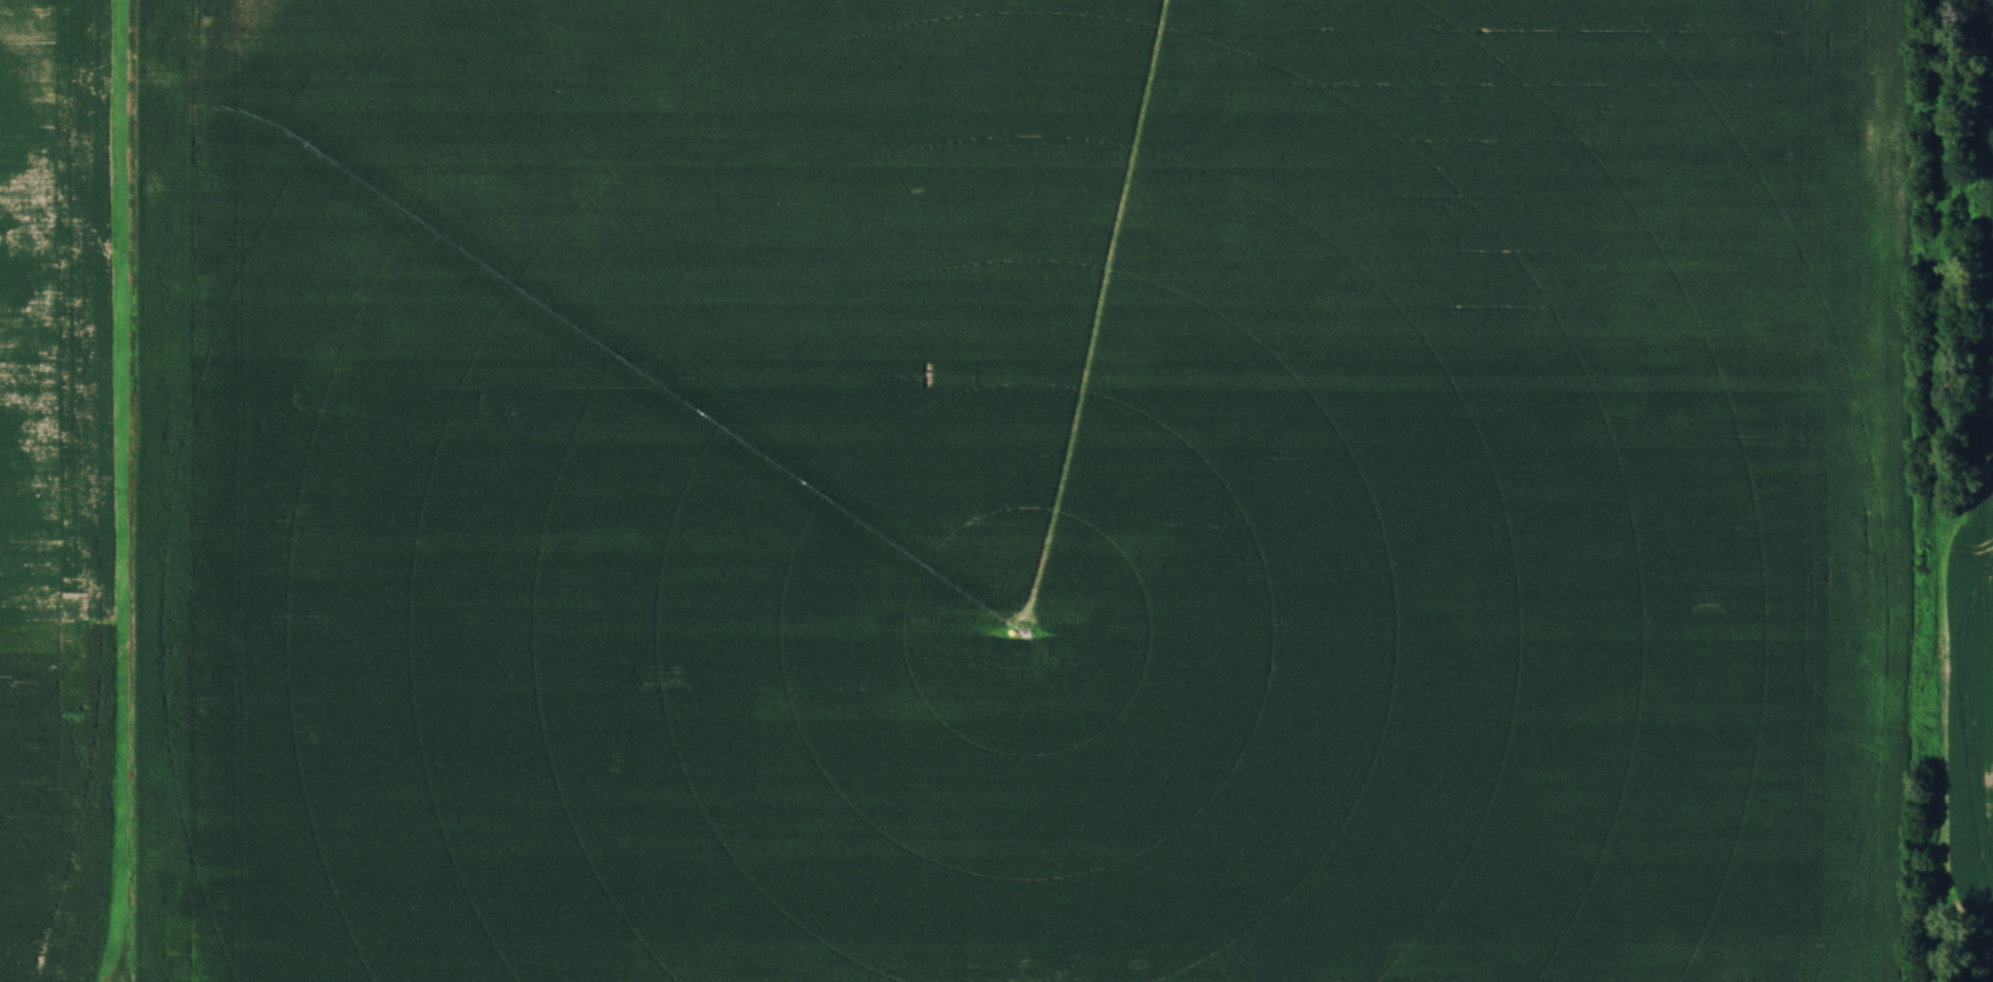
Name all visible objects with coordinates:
road: (1943, 490)

